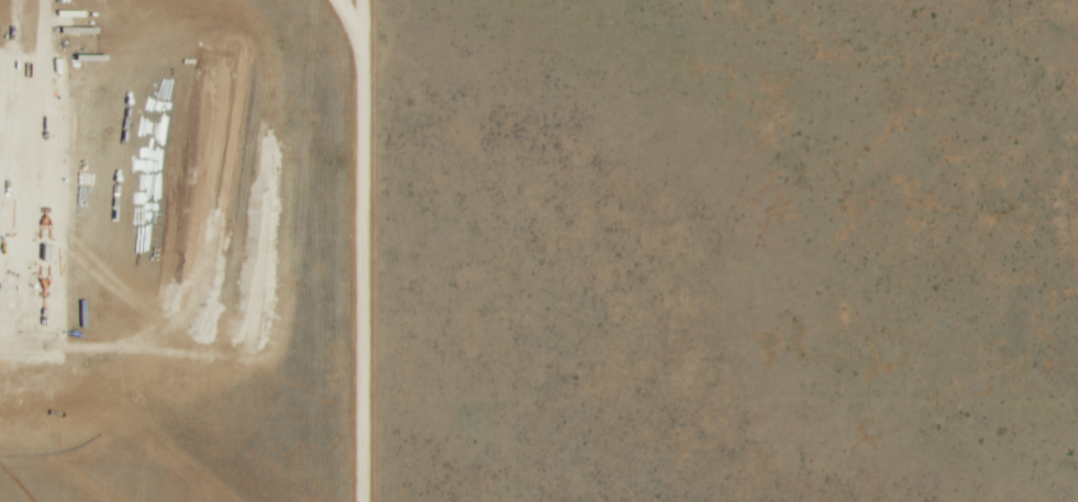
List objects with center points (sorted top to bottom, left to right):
power substation: (23, 207)

